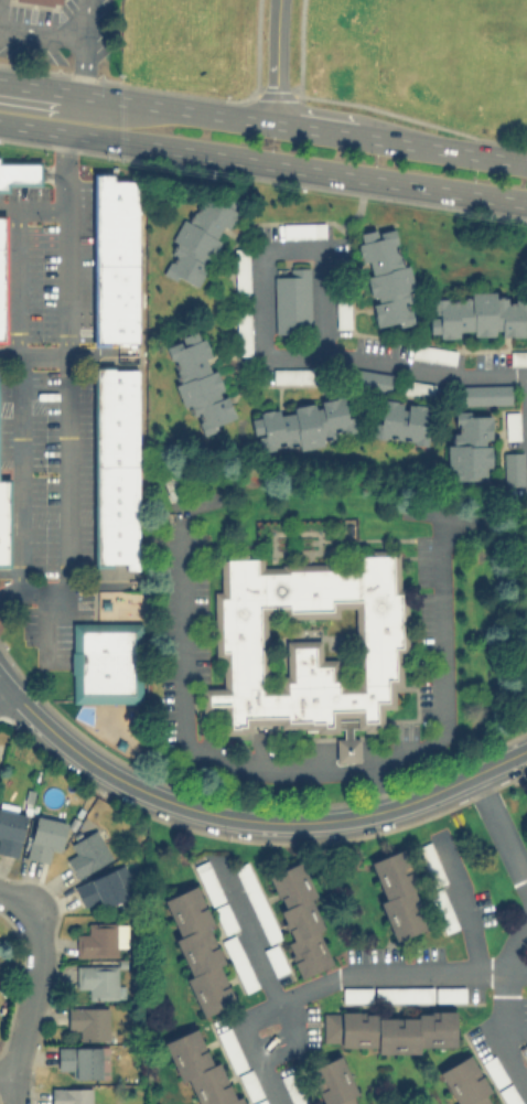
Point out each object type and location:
building: (41, 1)
road: (42, 34)
road: (83, 46)
road: (276, 61)
road: (41, 87)
road: (180, 108)
road: (320, 130)
road: (445, 149)
road: (262, 162)
building: (19, 172)
road: (20, 172)
road: (52, 172)
road: (7, 208)
road: (349, 218)
building: (302, 229)
building: (198, 238)
building: (112, 258)
road: (263, 259)
building: (240, 268)
building: (385, 277)
building: (2, 278)
building: (290, 300)
building: (342, 311)
building: (477, 314)
road: (31, 353)
building: (432, 353)
building: (518, 357)
road: (17, 374)
road: (423, 374)
building: (292, 375)
building: (368, 379)
building: (197, 380)
building: (418, 387)
building: (485, 393)
road: (526, 393)
road: (64, 394)
parking lot: (52, 414)
building: (402, 421)
building: (301, 424)
building: (512, 425)
building: (469, 446)
building: (115, 465)
building: (512, 468)
road: (445, 514)
building: (4, 522)
road: (45, 623)
building: (305, 645)
building: (105, 662)
road: (1, 689)
road: (305, 771)
road: (376, 790)
road: (249, 819)
road: (501, 829)
building: (10, 830)
building: (44, 836)
building: (87, 853)
building: (430, 864)
building: (207, 881)
building: (103, 888)
building: (397, 893)
road: (11, 898)
building: (256, 901)
road: (462, 902)
building: (441, 910)
building: (224, 917)
building: (298, 918)
building: (97, 940)
road: (256, 948)
building: (196, 950)
building: (275, 960)
building: (238, 963)
road: (333, 976)
building: (98, 980)
building: (355, 994)
building: (402, 994)
building: (449, 994)
road: (31, 1003)
road: (503, 1012)
building: (88, 1021)
building: (388, 1030)
building: (230, 1049)
road: (509, 1059)
building: (82, 1060)
building: (526, 1064)
building: (198, 1070)
building: (494, 1071)
road: (7, 1072)
building: (331, 1082)
building: (463, 1082)
building: (249, 1084)
building: (292, 1089)
building: (508, 1094)
building: (71, 1095)
building: (356, 1095)
building: (259, 1102)

